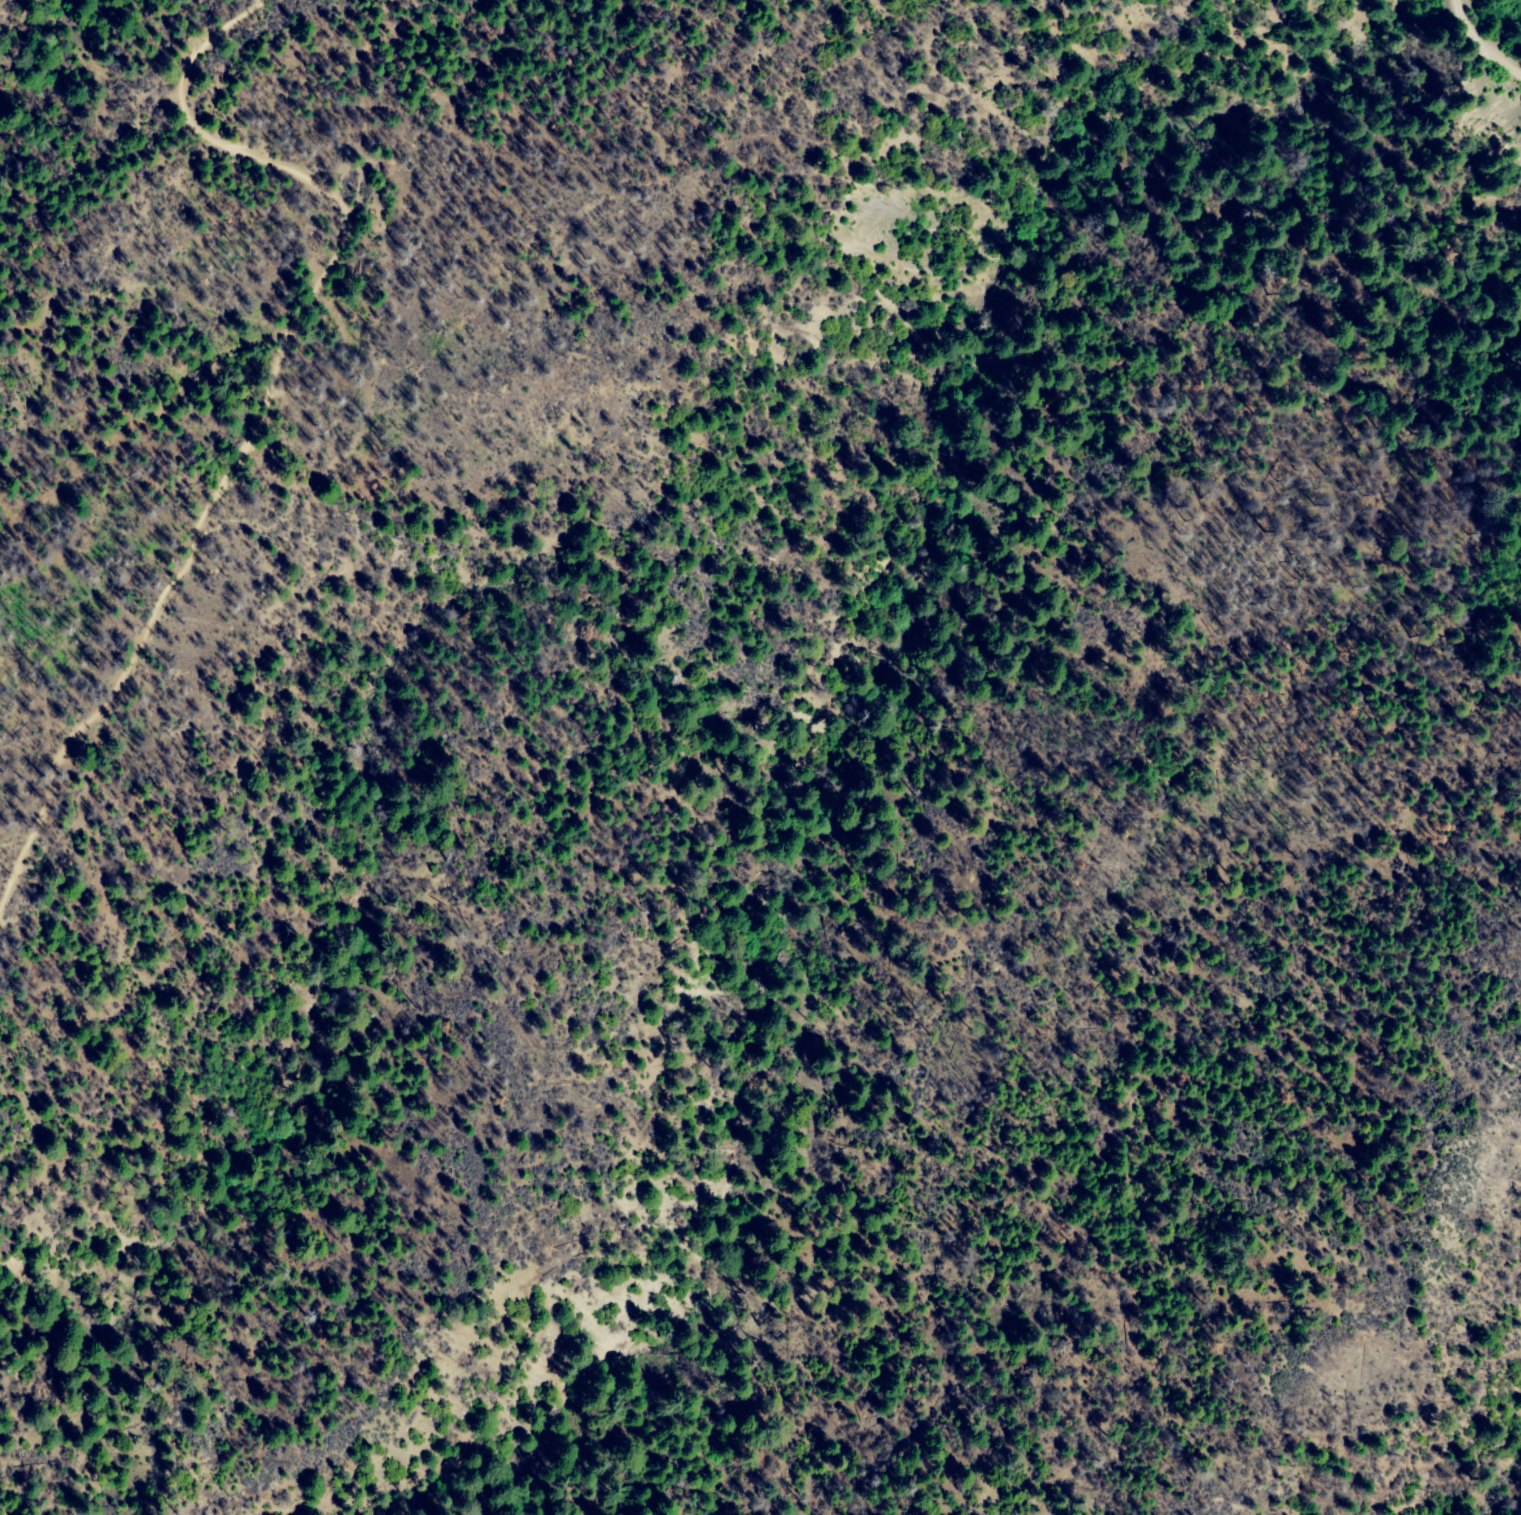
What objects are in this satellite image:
road: (1482, 41)

